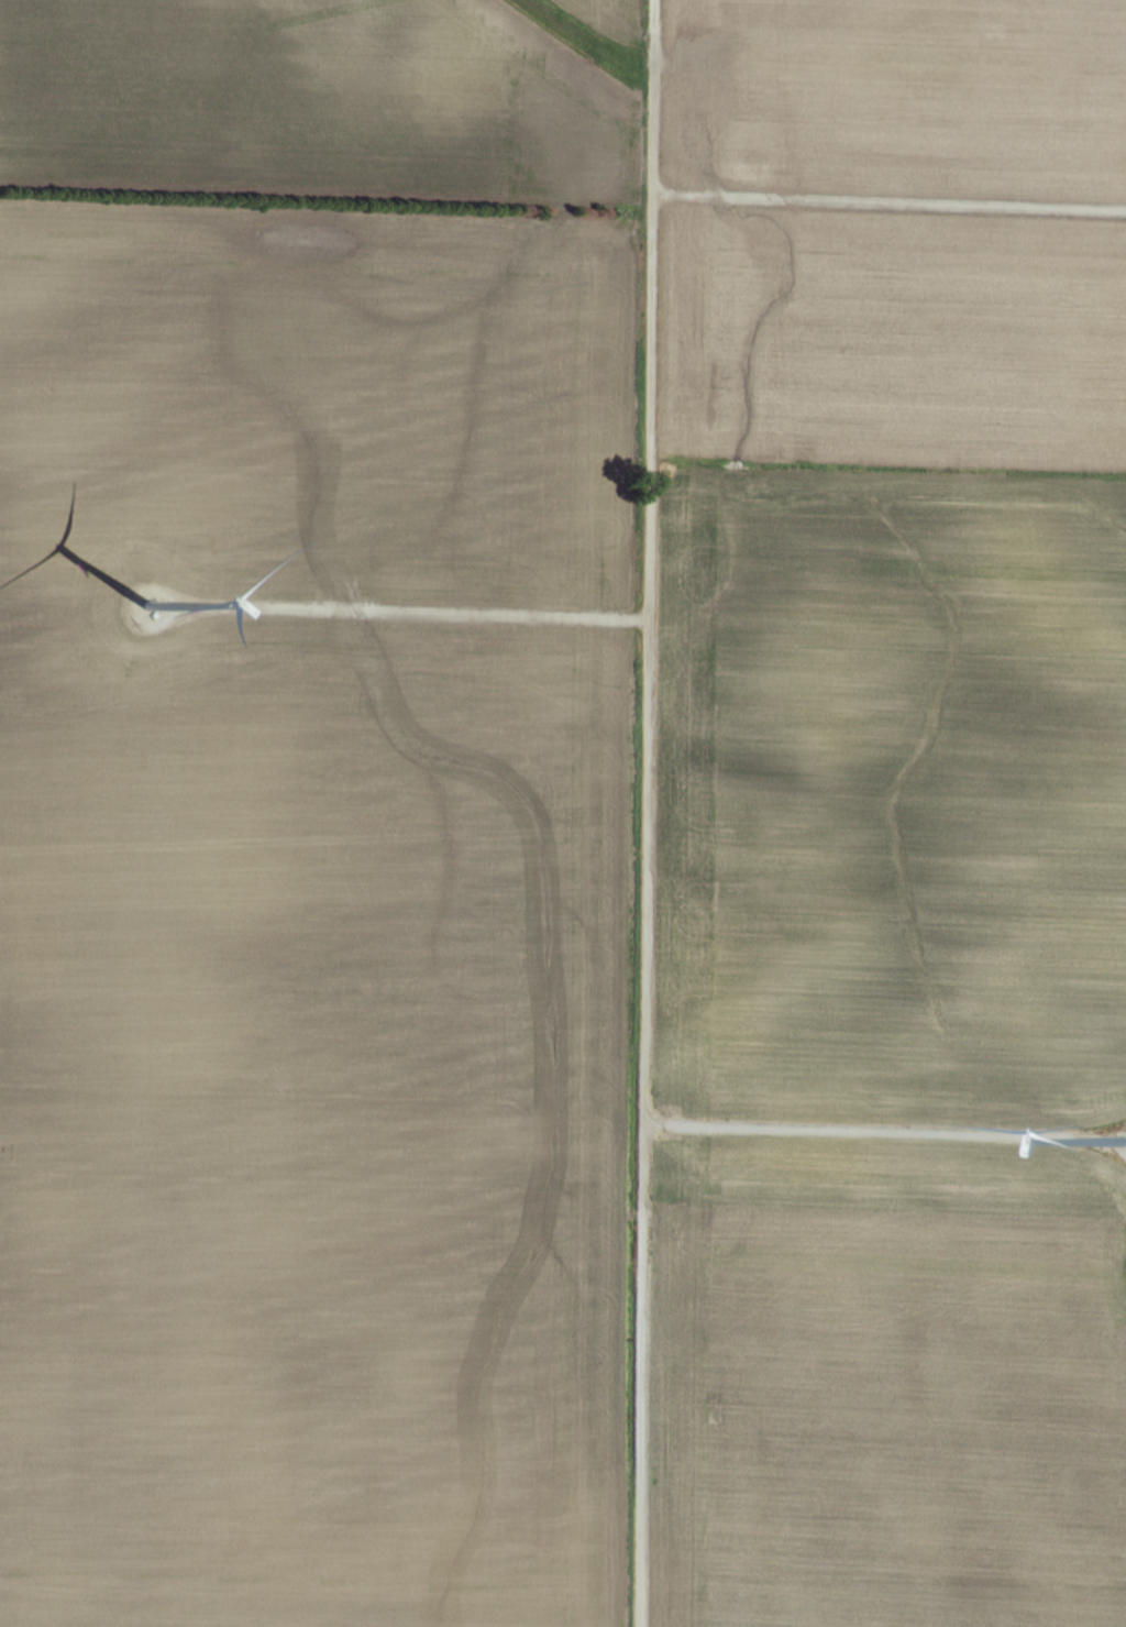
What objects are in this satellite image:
road: (892, 207)
wind turbine: (147, 607)
road: (411, 614)
road: (648, 813)
road: (884, 1133)

